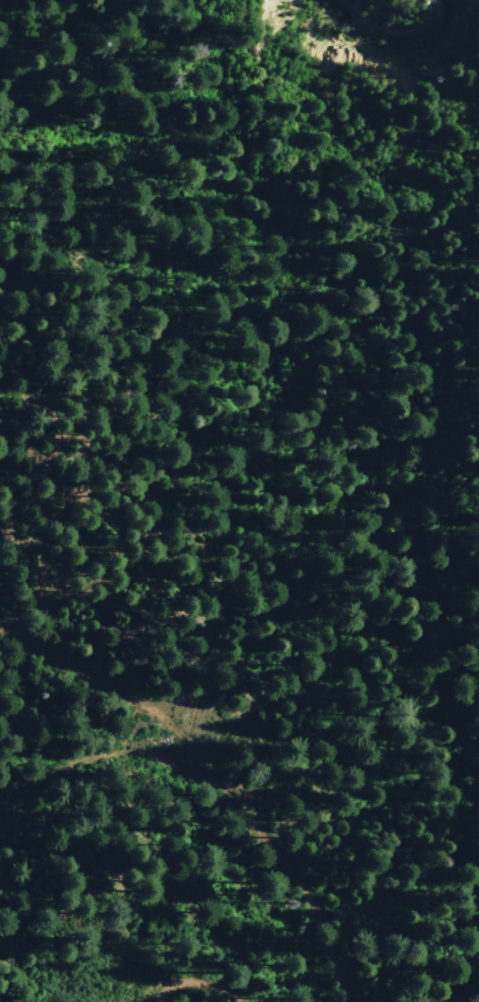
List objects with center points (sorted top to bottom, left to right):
road: (114, 751)
road: (220, 768)
road: (203, 984)

